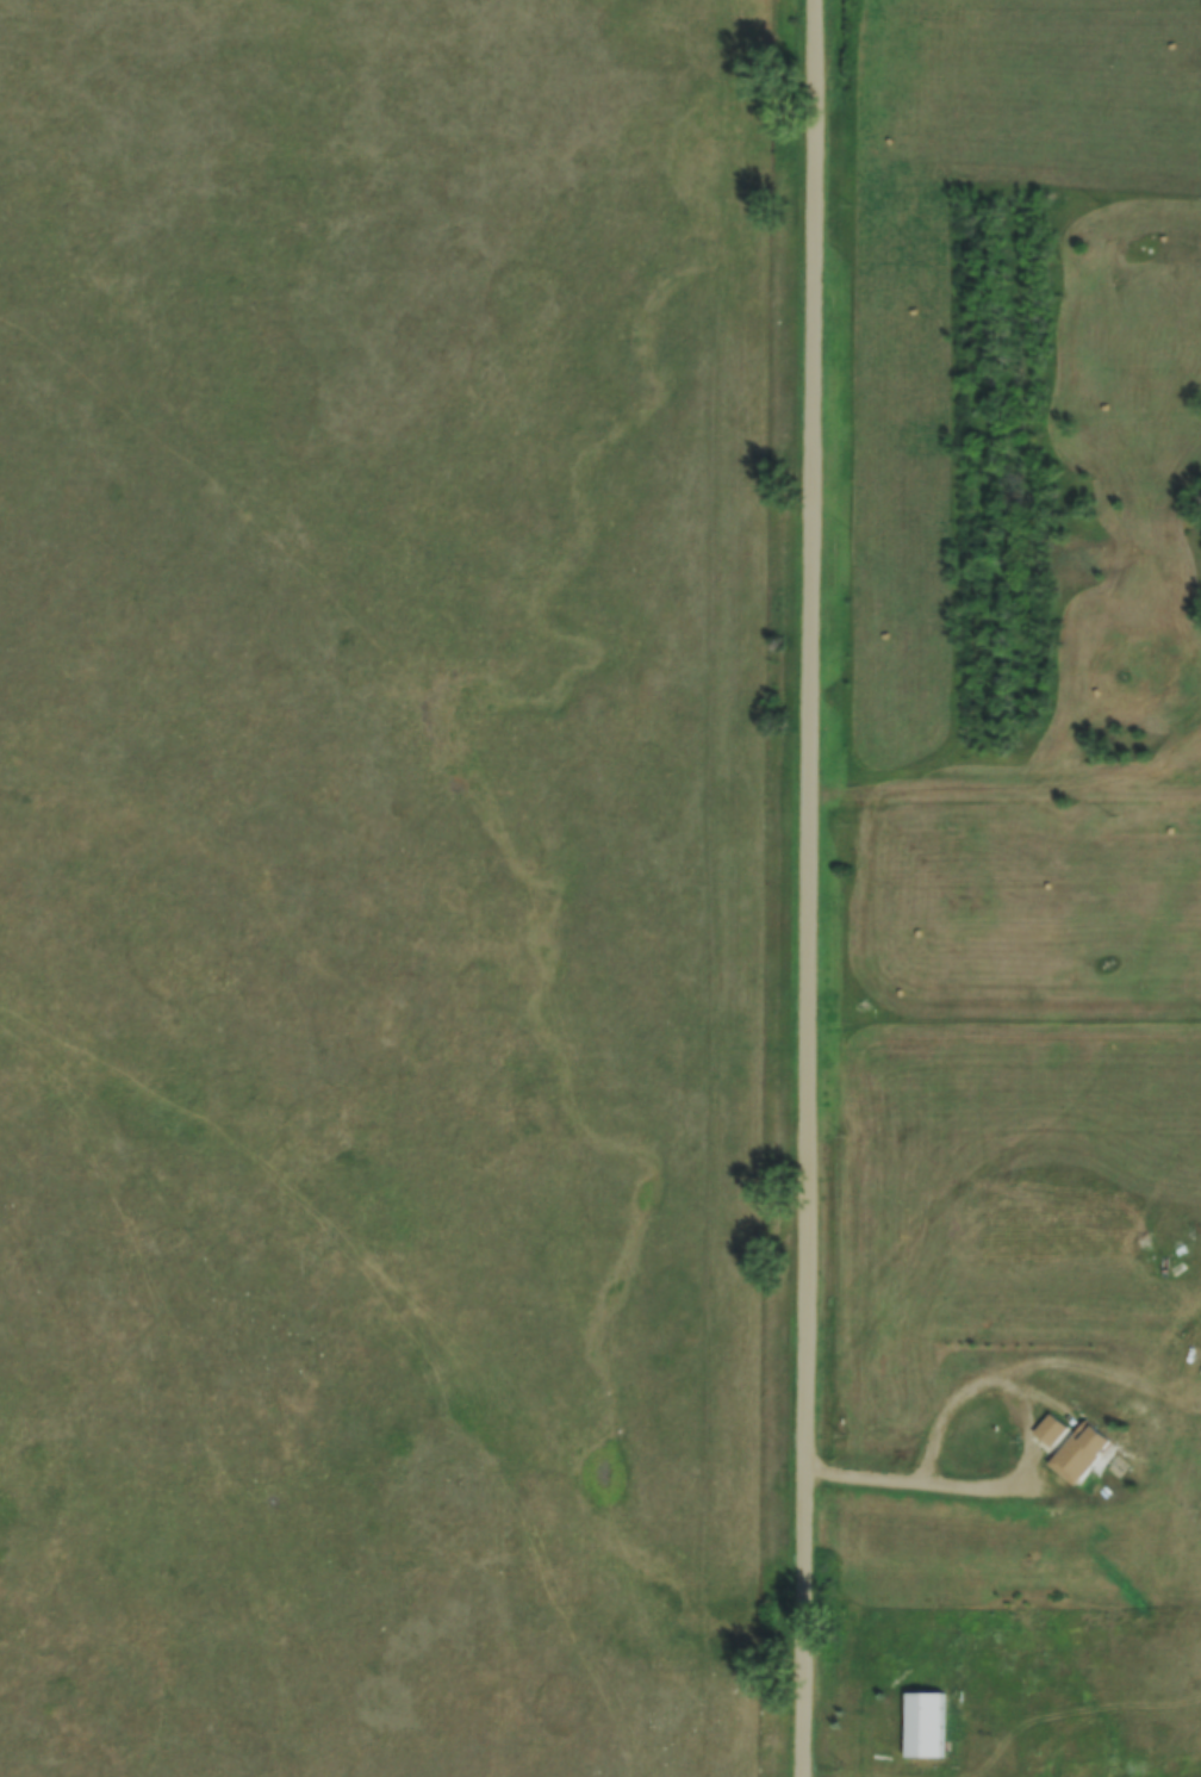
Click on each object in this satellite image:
road: (807, 888)
building: (1200, 1373)
building: (1048, 1430)
building: (1077, 1452)
building: (920, 1726)

